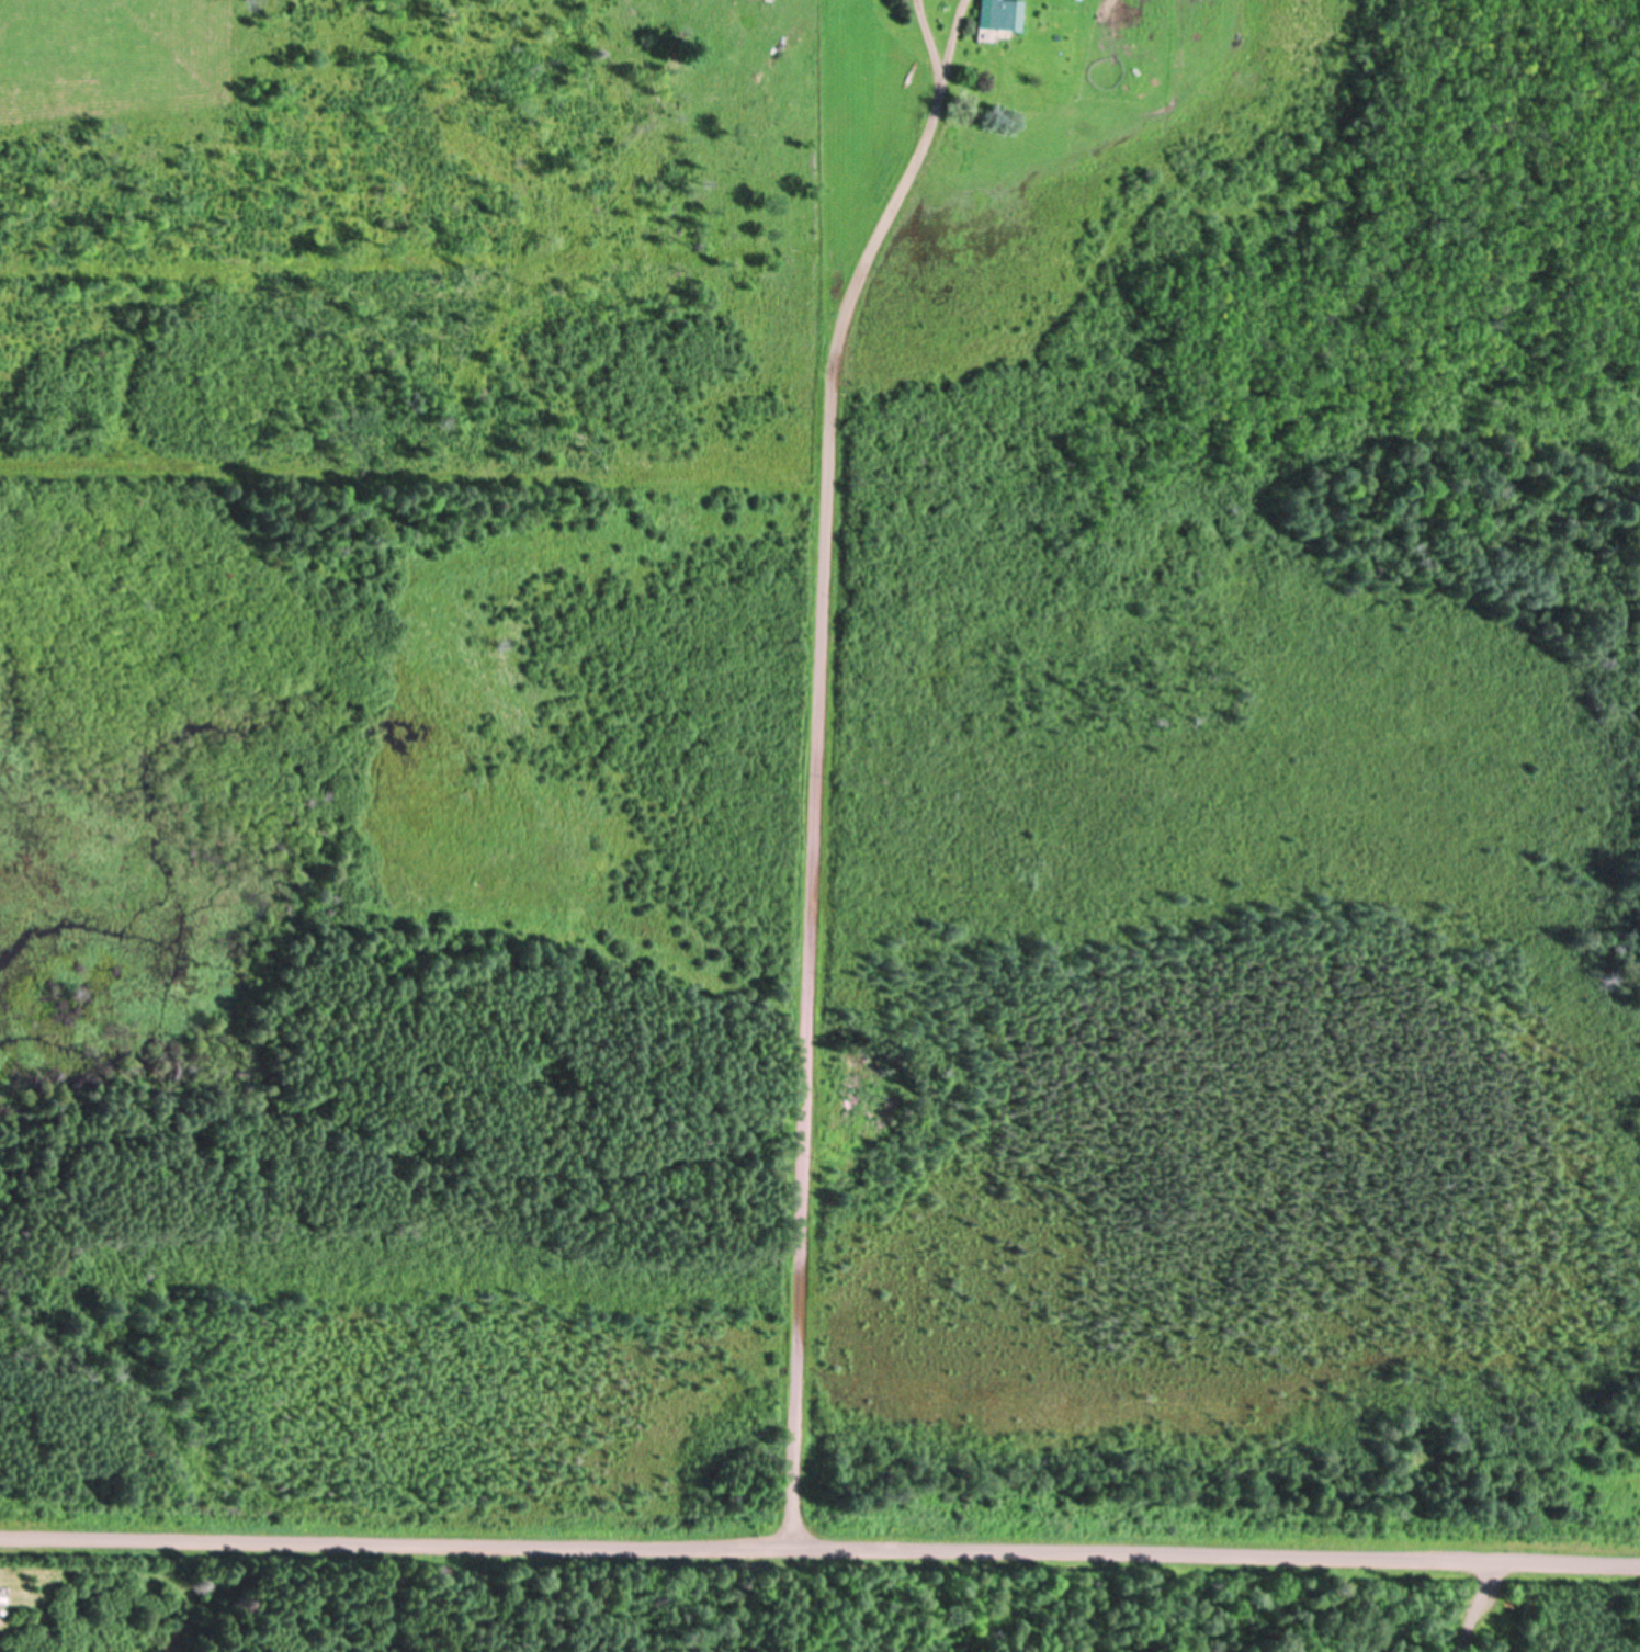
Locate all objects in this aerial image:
building: (1004, 12)
road: (928, 132)
road: (826, 748)
road: (819, 1538)

